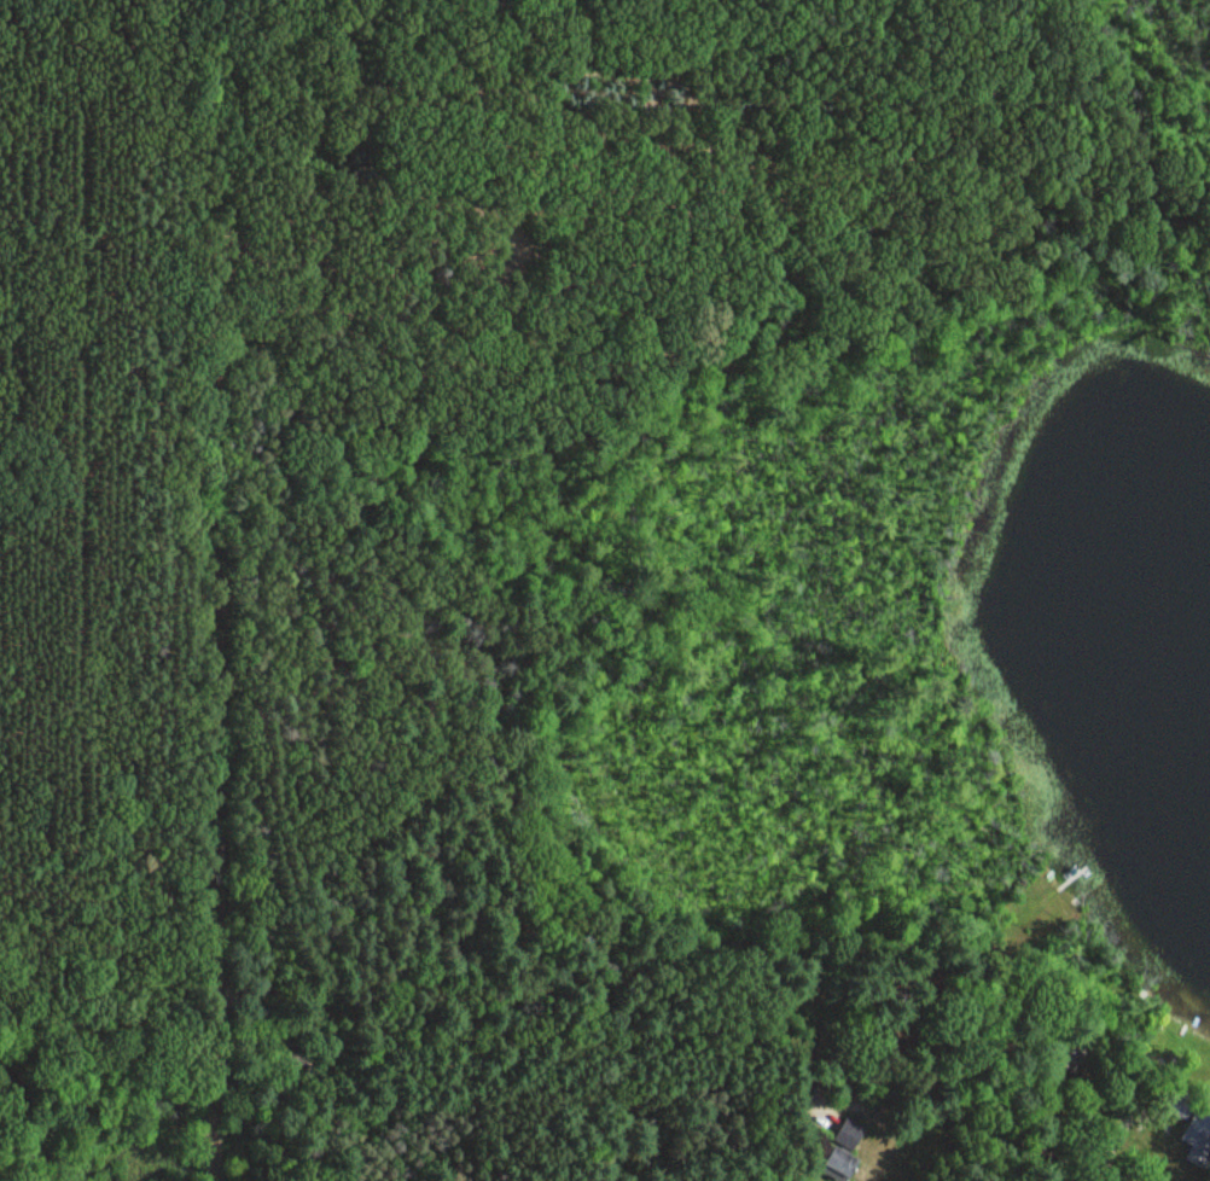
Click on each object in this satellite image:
road: (213, 151)
road: (209, 741)
road: (565, 1036)
building: (1191, 1128)
building: (842, 1148)

